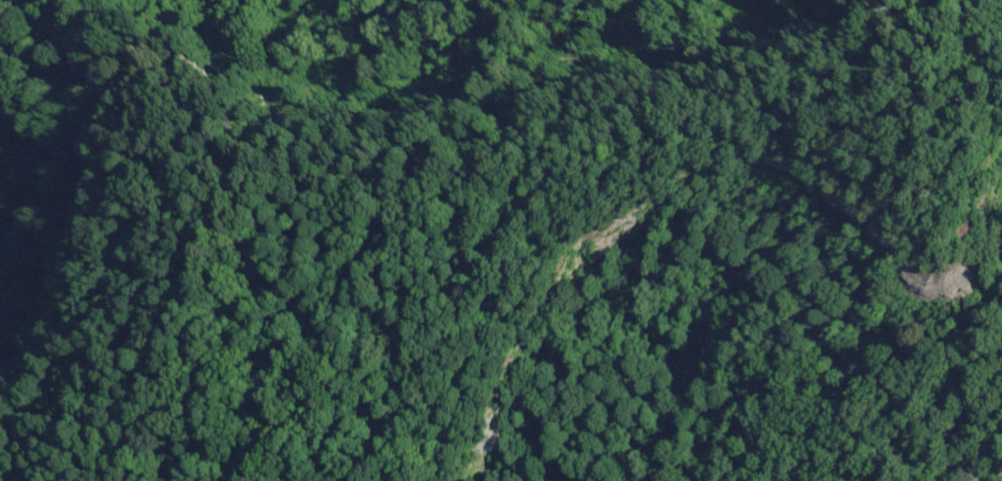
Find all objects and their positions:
road: (917, 137)
road: (520, 190)

